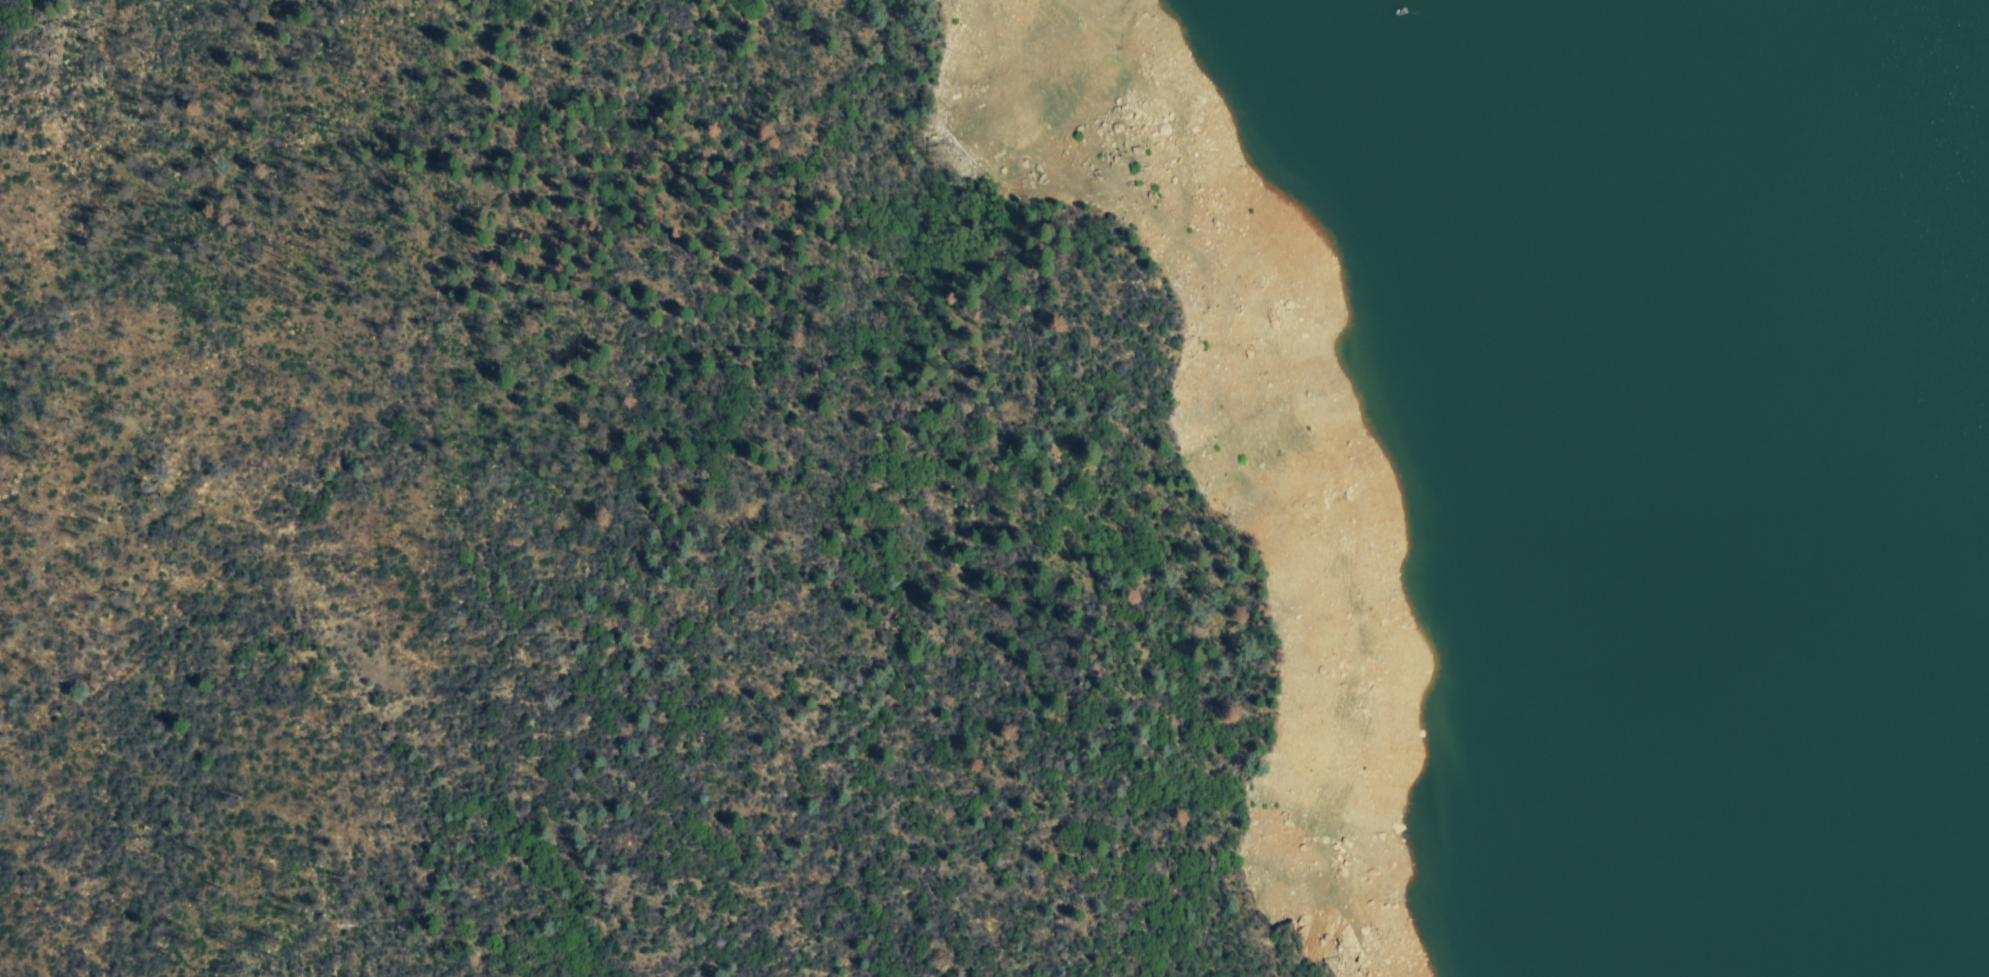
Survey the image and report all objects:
river: (1972, 71)

